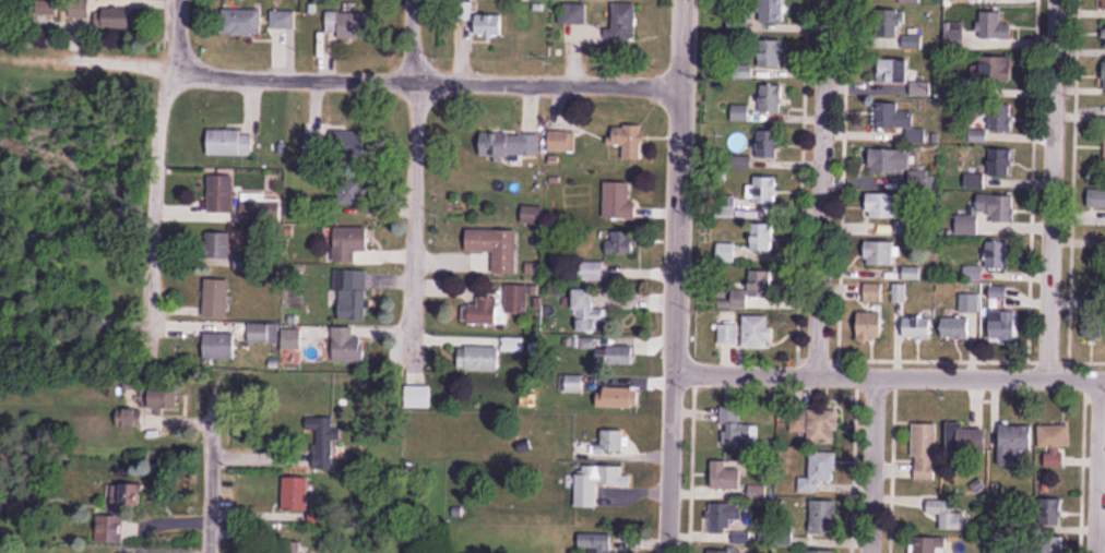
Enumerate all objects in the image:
building: (910, 1)
building: (50, 8)
building: (79, 8)
building: (772, 11)
building: (574, 13)
building: (114, 19)
building: (282, 19)
building: (241, 21)
building: (623, 21)
building: (350, 24)
building: (893, 24)
building: (996, 24)
building: (489, 25)
building: (917, 43)
building: (772, 55)
building: (998, 70)
building: (893, 71)
building: (1104, 75)
road: (412, 79)
building: (772, 98)
building: (895, 117)
building: (1003, 118)
building: (230, 142)
building: (630, 142)
building: (347, 143)
building: (768, 144)
building: (314, 145)
building: (510, 145)
road: (154, 156)
building: (890, 161)
building: (1002, 163)
road: (414, 167)
road: (823, 185)
road: (1051, 188)
building: (765, 191)
building: (350, 193)
building: (221, 194)
building: (1096, 199)
building: (618, 202)
building: (881, 206)
building: (998, 207)
building: (259, 209)
building: (967, 226)
building: (762, 238)
building: (621, 242)
building: (349, 243)
building: (495, 247)
building: (218, 251)
building: (880, 254)
building: (997, 255)
road: (675, 276)
building: (753, 290)
building: (874, 293)
building: (899, 293)
building: (350, 294)
building: (216, 299)
building: (515, 299)
building: (969, 303)
building: (484, 312)
building: (586, 312)
building: (1002, 324)
building: (870, 327)
building: (917, 328)
building: (954, 329)
building: (757, 333)
building: (271, 334)
building: (727, 334)
building: (219, 347)
building: (347, 347)
building: (616, 356)
building: (479, 358)
road: (889, 374)
building: (418, 396)
building: (164, 397)
building: (618, 397)
building: (129, 418)
building: (797, 421)
building: (736, 428)
building: (822, 428)
building: (324, 429)
building: (967, 437)
building: (611, 441)
building: (1012, 442)
building: (1054, 443)
building: (924, 449)
road: (871, 464)
road: (1095, 464)
building: (818, 471)
building: (726, 473)
road: (211, 477)
building: (597, 482)
building: (296, 491)
building: (130, 494)
building: (948, 513)
building: (720, 517)
building: (823, 517)
building: (107, 528)
building: (596, 542)
building: (931, 543)
building: (822, 551)

